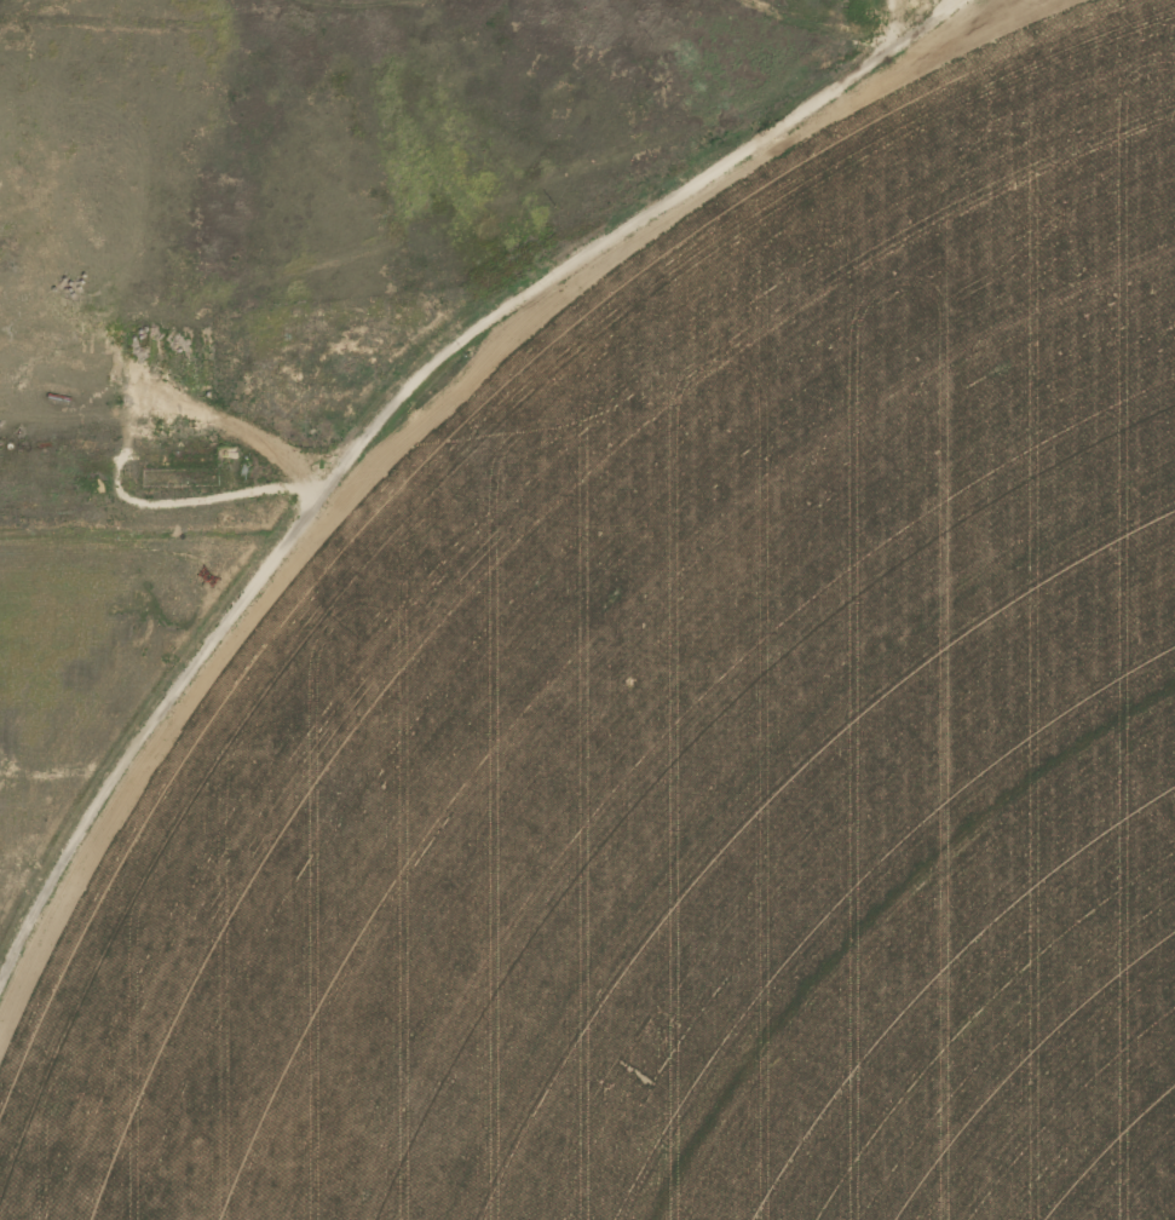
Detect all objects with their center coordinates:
road: (883, 610)

